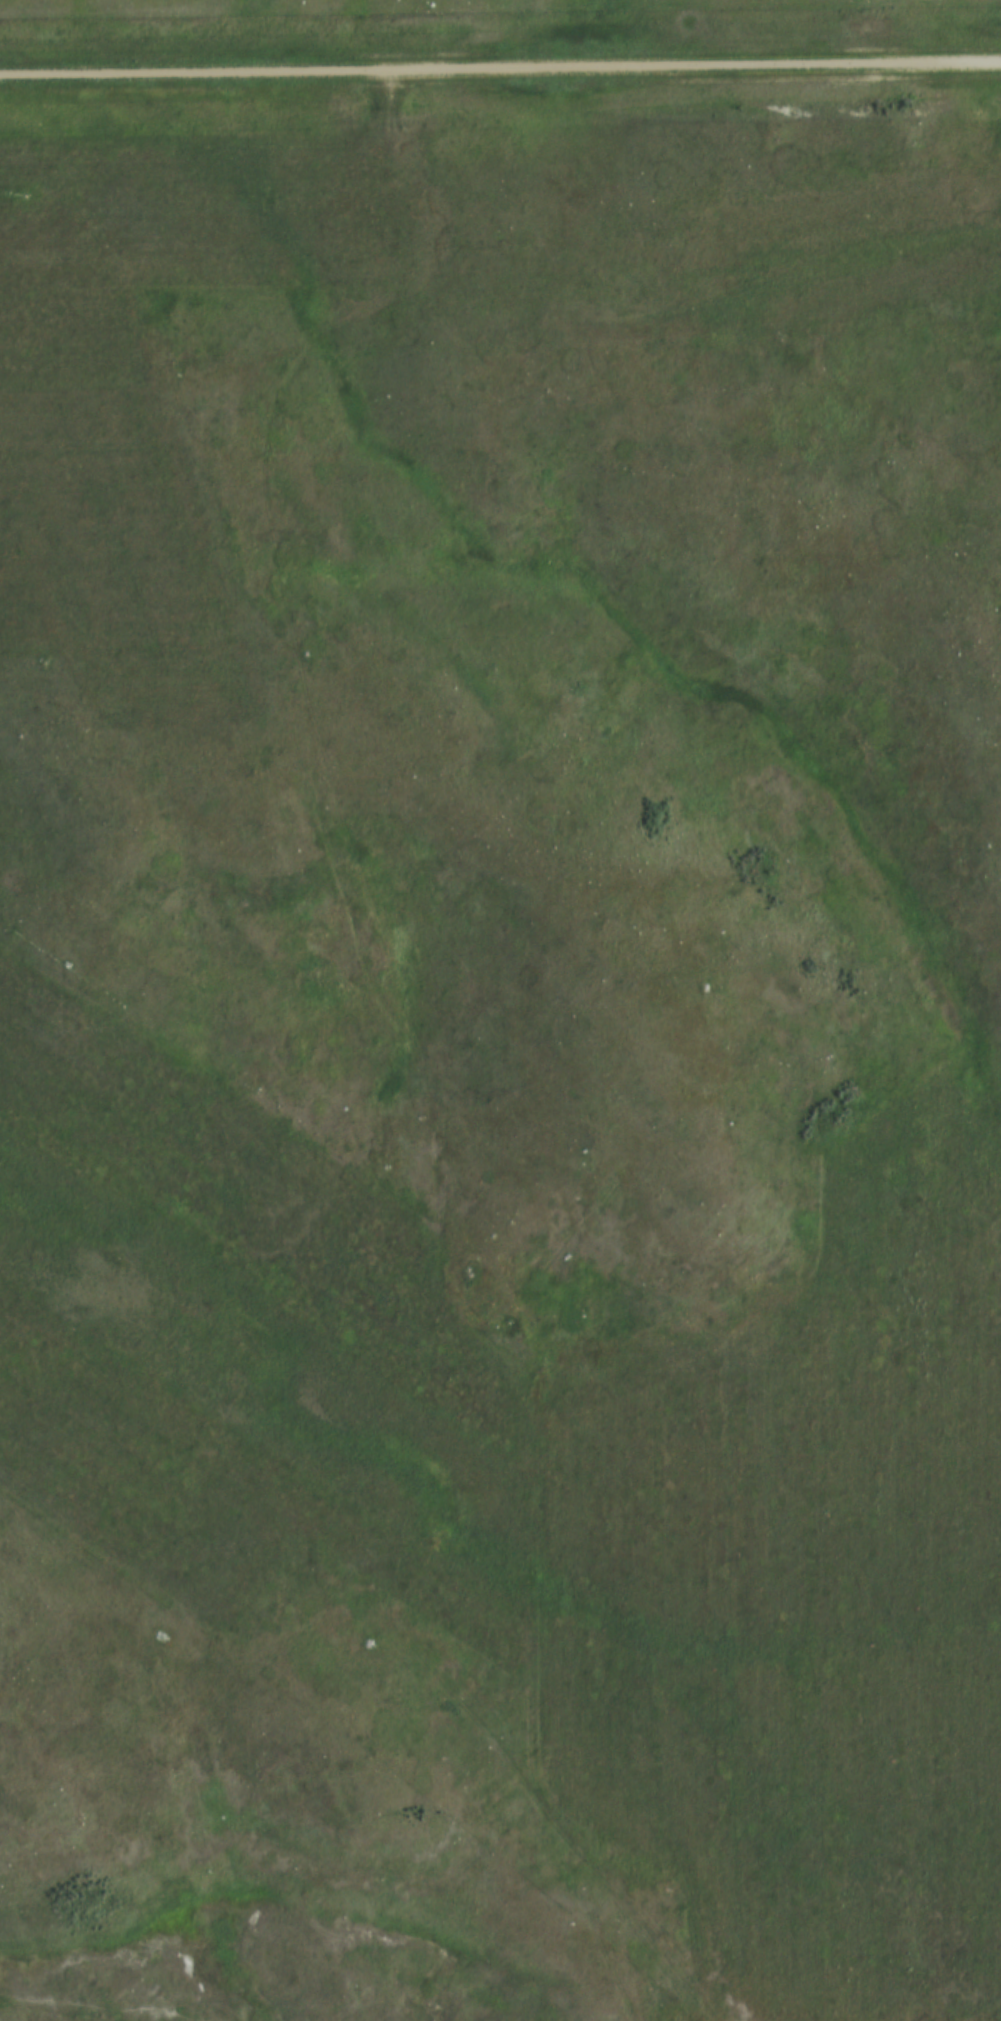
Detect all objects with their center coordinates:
road: (500, 70)

